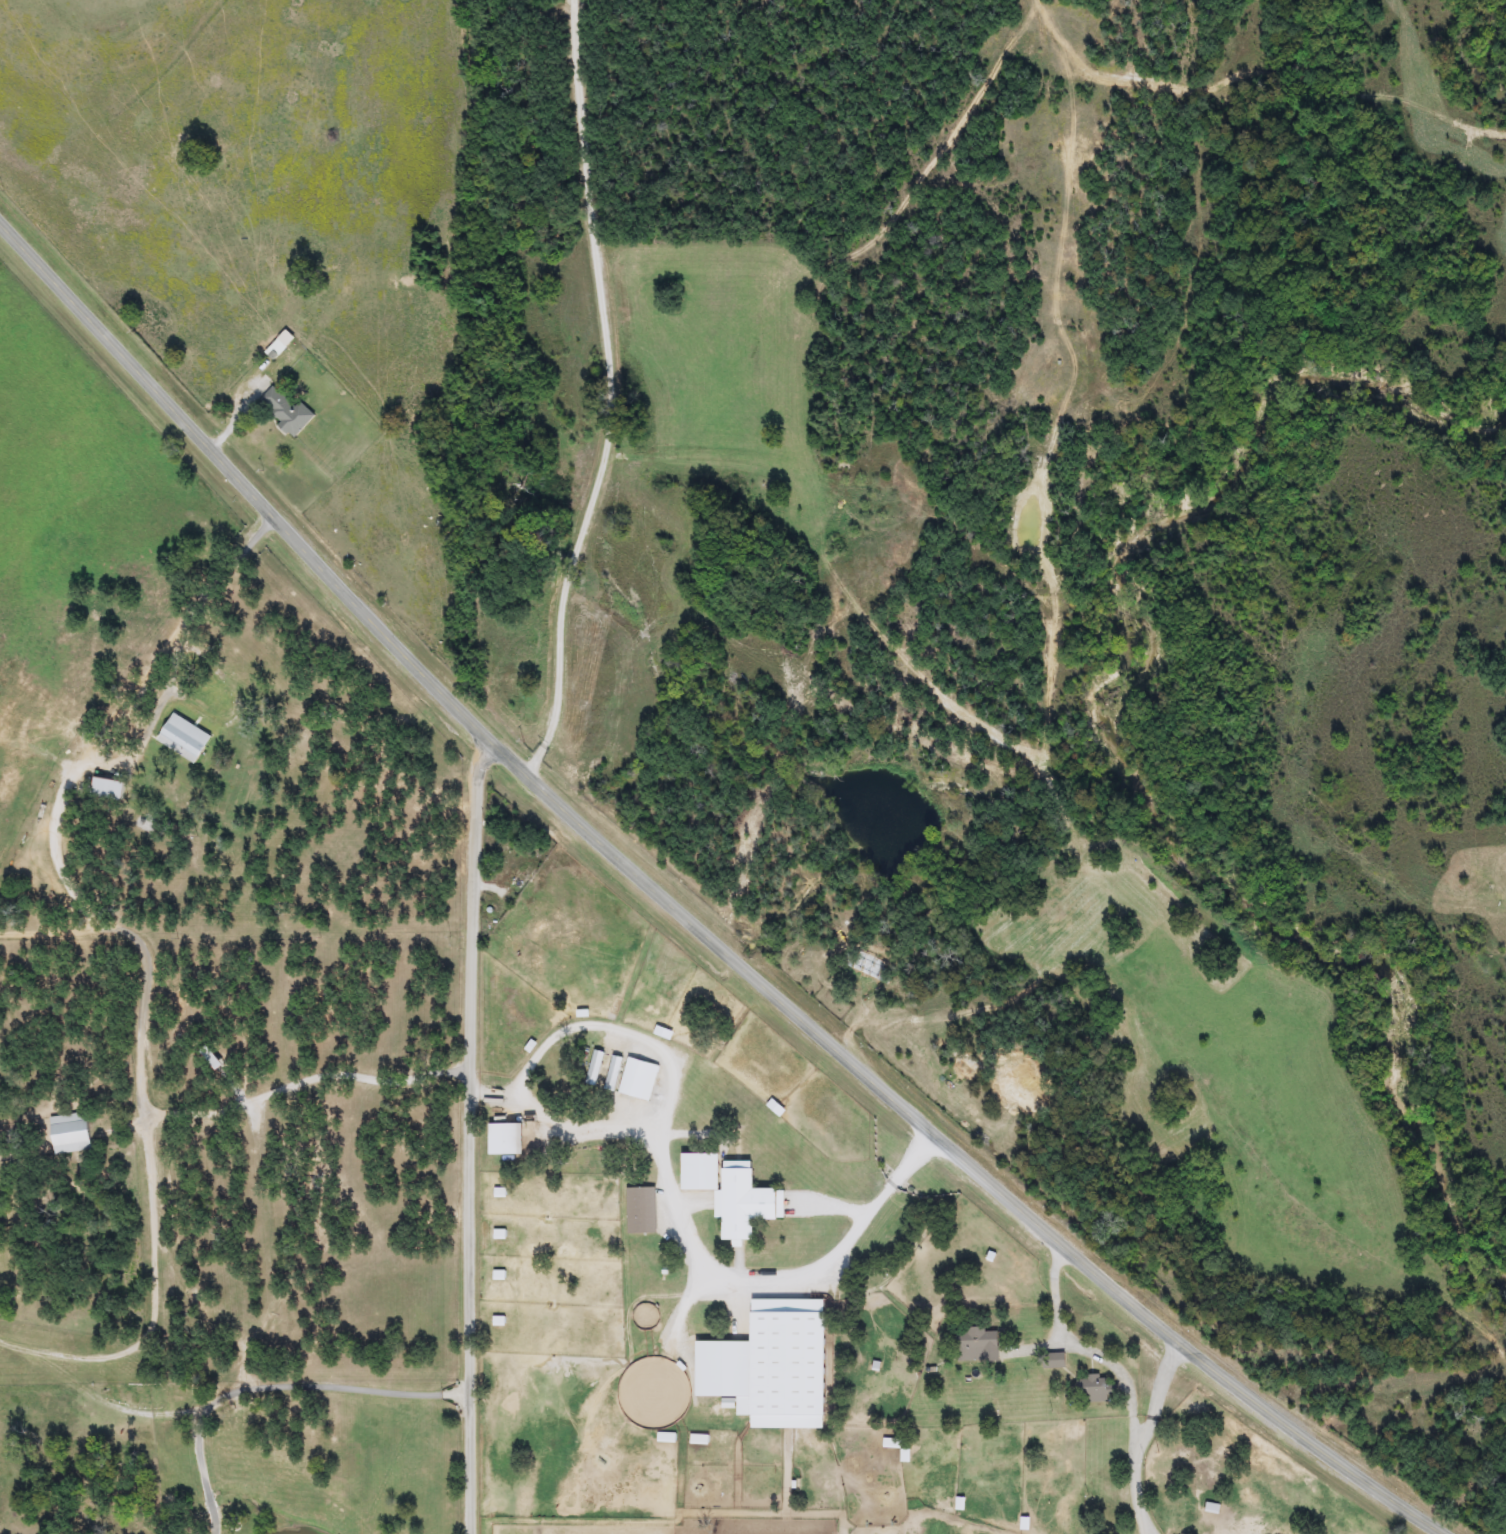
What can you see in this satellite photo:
road: (612, 396)
building: (286, 411)
road: (239, 553)
building: (183, 738)
building: (107, 789)
road: (684, 922)
building: (868, 967)
road: (147, 977)
road: (593, 1034)
building: (634, 1078)
building: (69, 1133)
road: (575, 1134)
road: (472, 1138)
building: (505, 1139)
building: (731, 1193)
building: (640, 1210)
road: (771, 1290)
building: (977, 1344)
building: (770, 1365)
road: (1124, 1374)
building: (1096, 1389)
road: (277, 1395)
road: (1160, 1395)
road: (204, 1473)

